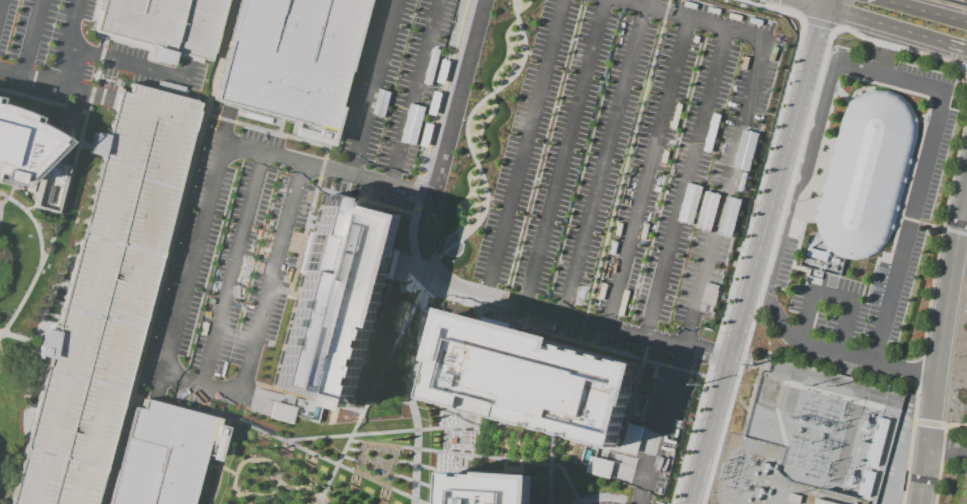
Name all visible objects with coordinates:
road: (807, 3)
road: (773, 7)
road: (925, 11)
road: (802, 18)
road: (688, 19)
road: (819, 22)
building: (163, 25)
parking garage: (163, 25)
road: (834, 27)
road: (893, 28)
road: (35, 38)
road: (69, 42)
road: (900, 47)
parking lot: (105, 48)
building: (292, 56)
parking garage: (292, 56)
road: (126, 62)
road: (966, 70)
road: (13, 72)
road: (888, 77)
road: (886, 85)
road: (63, 86)
road: (440, 86)
road: (371, 87)
road: (411, 92)
road: (453, 98)
road: (211, 115)
road: (226, 119)
road: (465, 126)
road: (280, 134)
building: (20, 147)
road: (525, 147)
building: (745, 150)
road: (325, 152)
road: (562, 152)
road: (603, 157)
building: (719, 165)
road: (321, 166)
road: (813, 169)
road: (622, 170)
road: (644, 173)
building: (865, 175)
road: (800, 176)
road: (907, 180)
road: (317, 182)
road: (683, 182)
building: (48, 187)
road: (418, 190)
road: (3, 197)
road: (365, 201)
parking lot: (857, 208)
road: (964, 209)
building: (707, 211)
building: (728, 216)
road: (58, 218)
road: (33, 221)
road: (919, 221)
road: (907, 225)
road: (167, 251)
road: (753, 252)
road: (738, 260)
road: (431, 264)
road: (766, 265)
road: (799, 268)
building: (670, 276)
road: (805, 277)
building: (688, 282)
road: (832, 295)
building: (101, 301)
parking lot: (101, 301)
building: (338, 301)
road: (928, 301)
road: (516, 303)
road: (178, 310)
road: (806, 316)
road: (942, 316)
road: (504, 320)
road: (845, 326)
road: (18, 337)
road: (813, 345)
road: (678, 368)
road: (912, 370)
road: (697, 373)
building: (537, 384)
road: (409, 387)
road: (370, 393)
road: (664, 401)
building: (280, 412)
road: (913, 421)
road: (928, 423)
road: (954, 424)
road: (944, 426)
road: (377, 432)
road: (473, 433)
road: (274, 436)
power substation: (805, 439)
road: (946, 448)
road: (940, 449)
road: (472, 454)
building: (164, 455)
parking garage: (164, 455)
road: (219, 460)
road: (265, 460)
road: (220, 467)
building: (598, 467)
road: (548, 469)
road: (920, 476)
road: (936, 487)
building: (494, 488)
road: (573, 502)
building: (822, 502)

